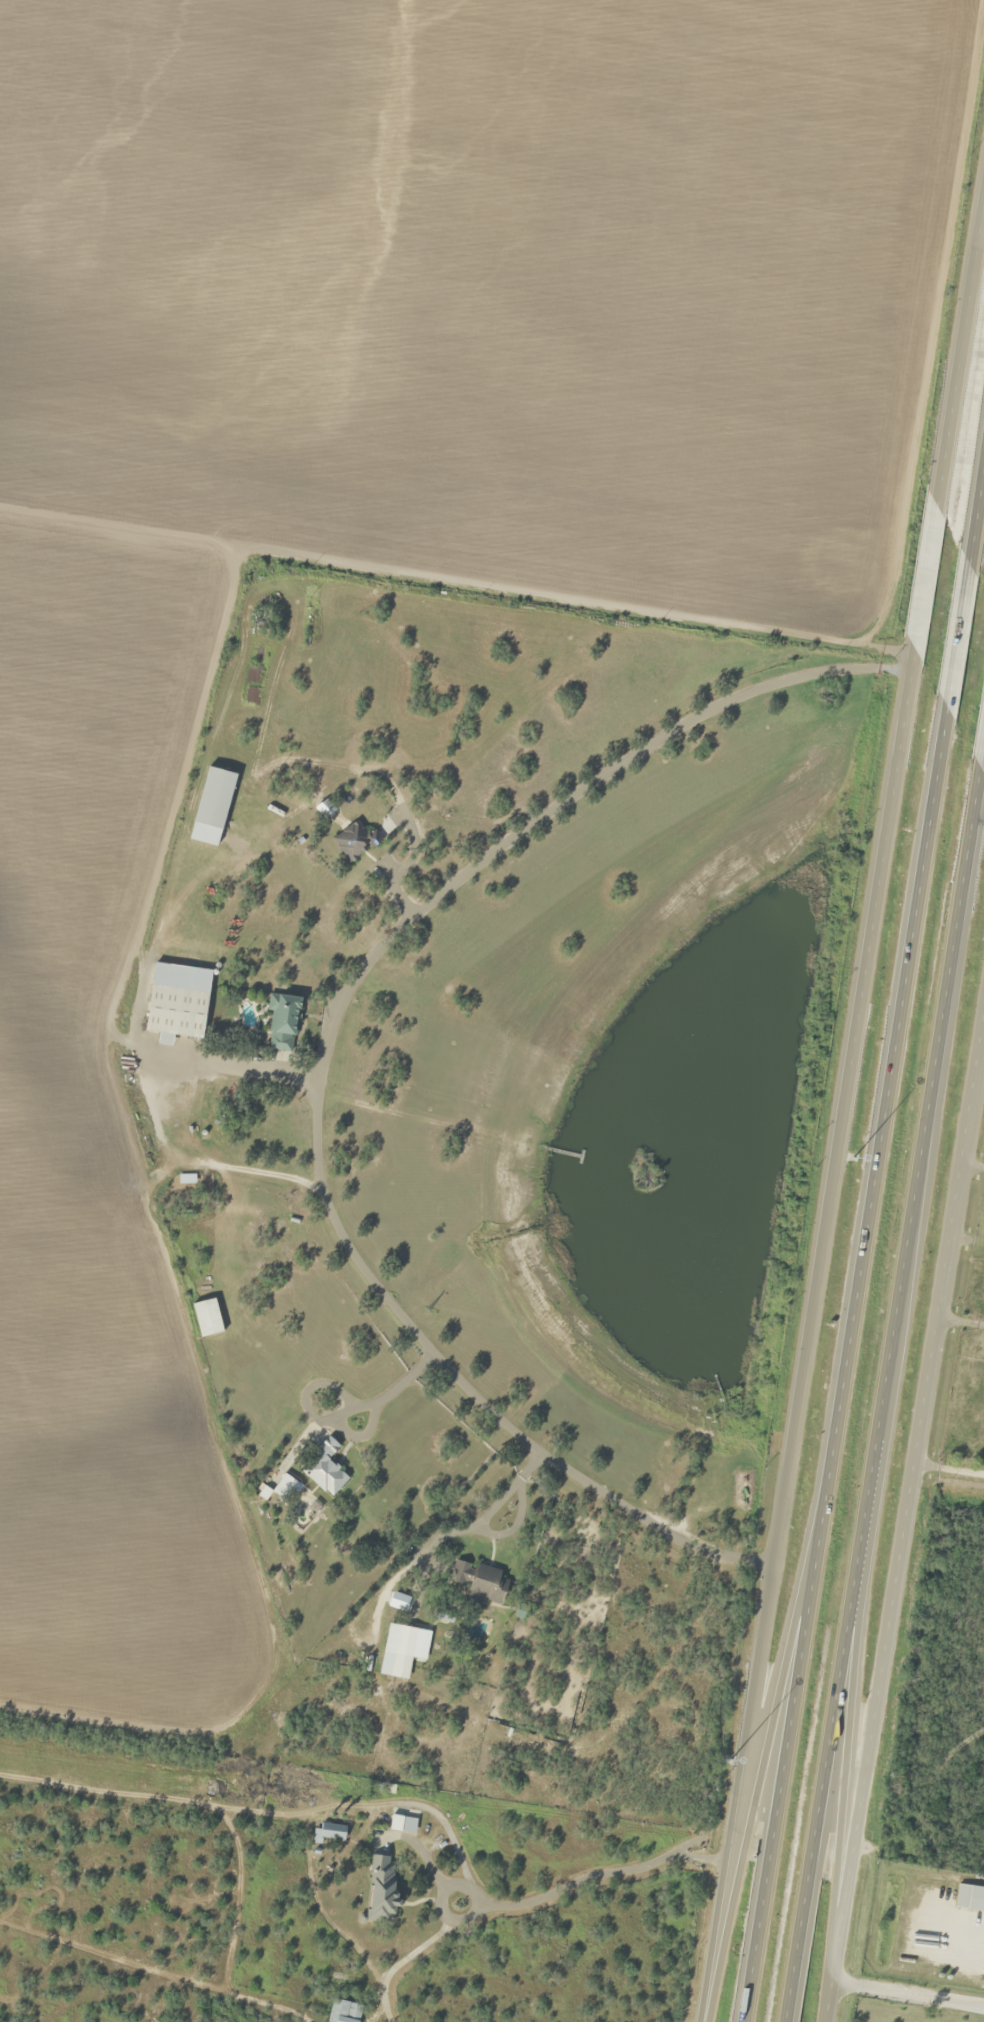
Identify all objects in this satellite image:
building: (212, 807)
building: (354, 841)
road: (923, 853)
road: (942, 998)
building: (175, 1013)
building: (282, 1018)
road: (319, 1056)
road: (844, 1075)
road: (970, 1165)
building: (207, 1317)
building: (324, 1469)
road: (905, 1490)
building: (460, 1573)
building: (486, 1586)
building: (400, 1640)
road: (802, 1656)
road: (845, 1658)
road: (768, 1731)
road: (850, 1735)
building: (332, 1831)
road: (917, 1849)
building: (382, 1887)
building: (969, 1898)
road: (905, 1994)
building: (344, 2012)
road: (822, 2012)

